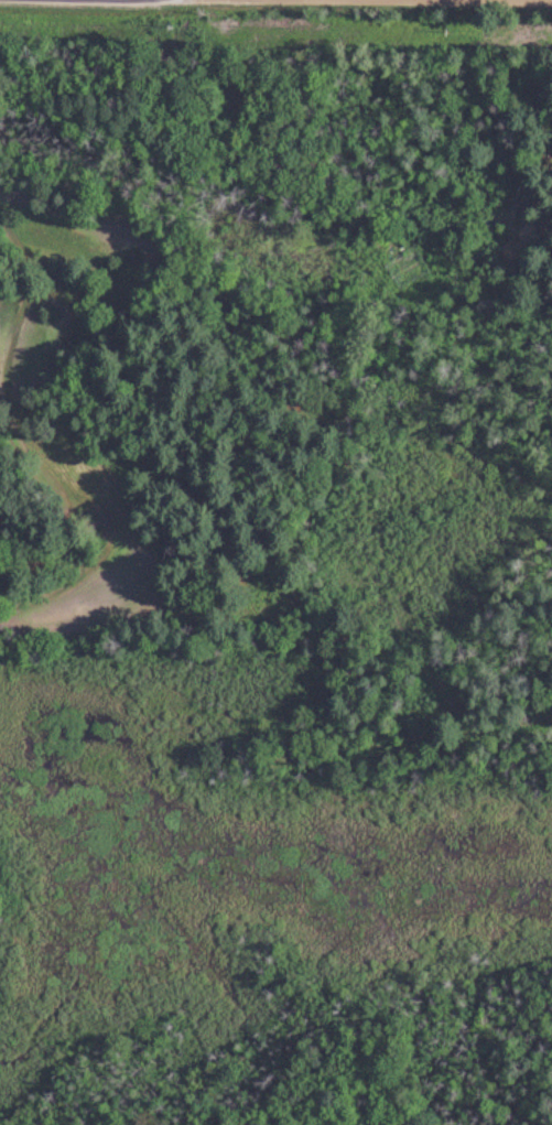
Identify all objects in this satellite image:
road: (467, 1)
building: (500, 221)

